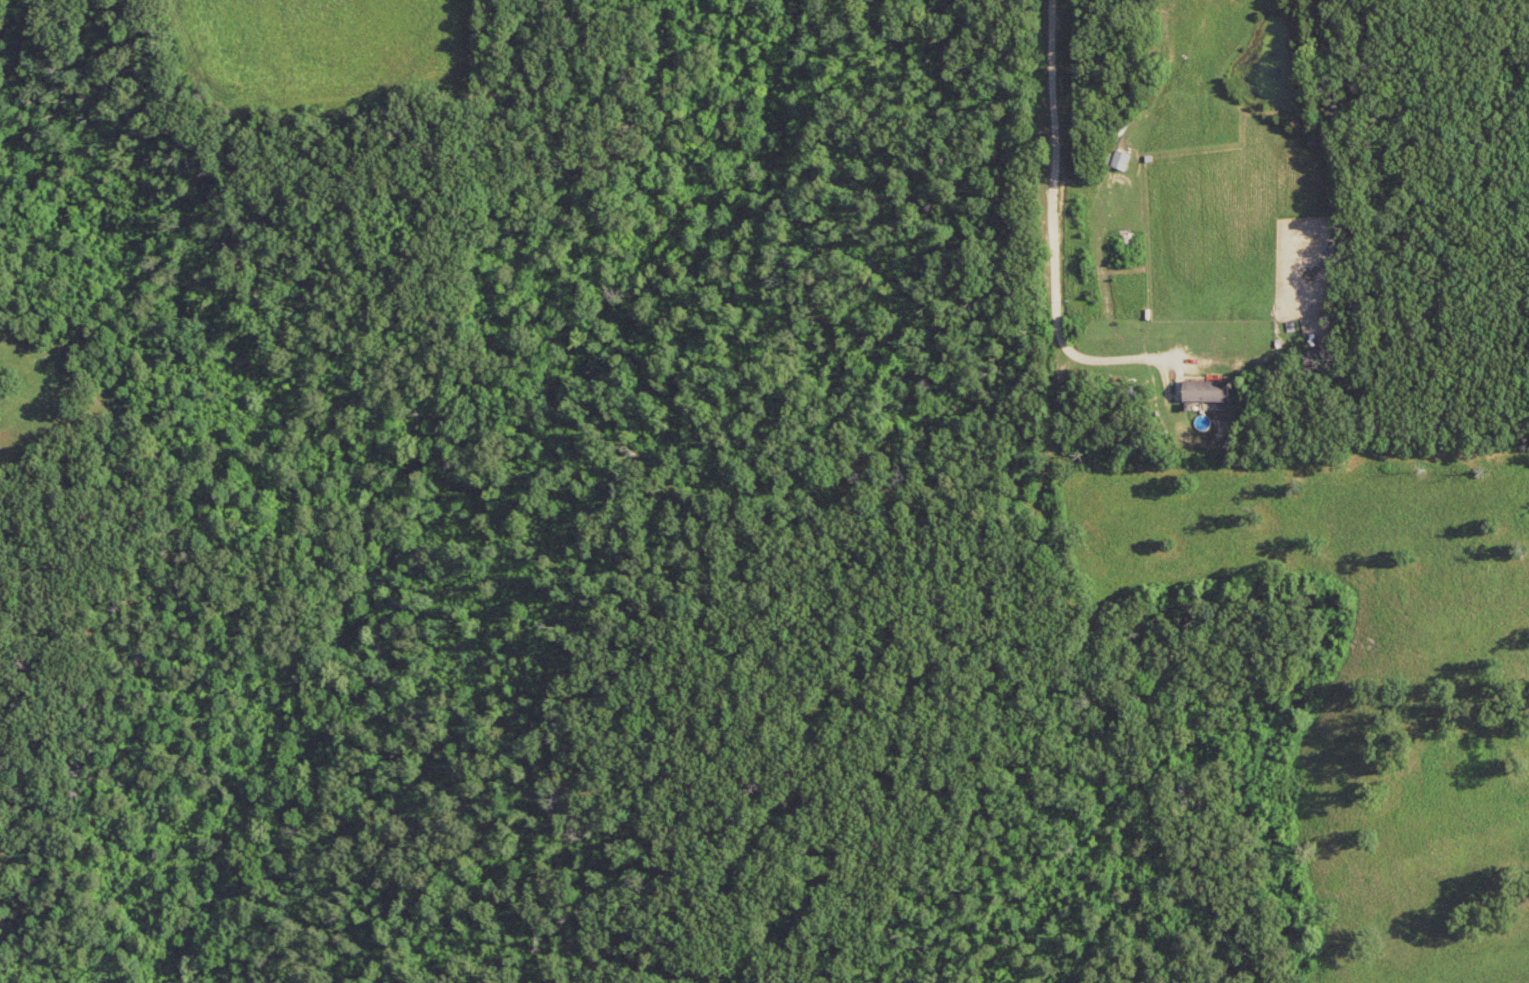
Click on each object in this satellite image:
road: (1058, 228)

